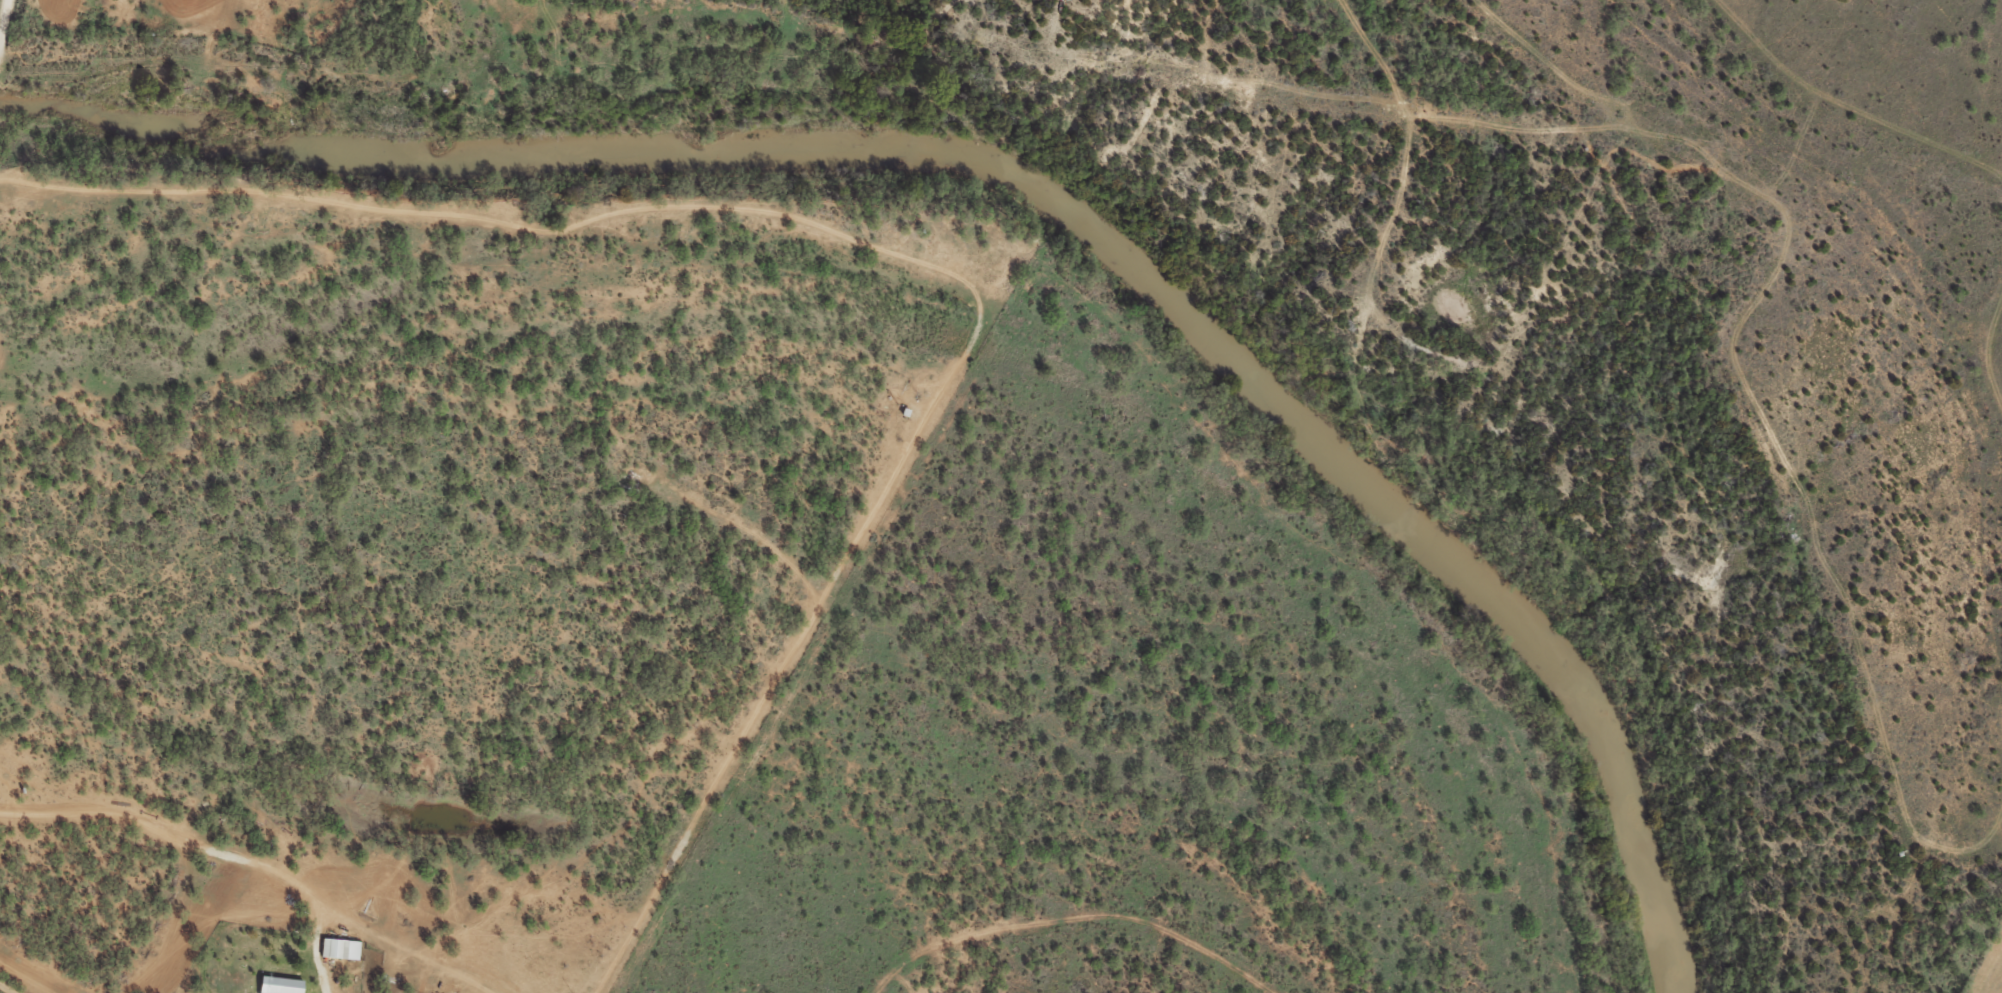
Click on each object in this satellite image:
river: (1039, 197)
road: (1704, 484)
building: (344, 948)
building: (284, 985)

